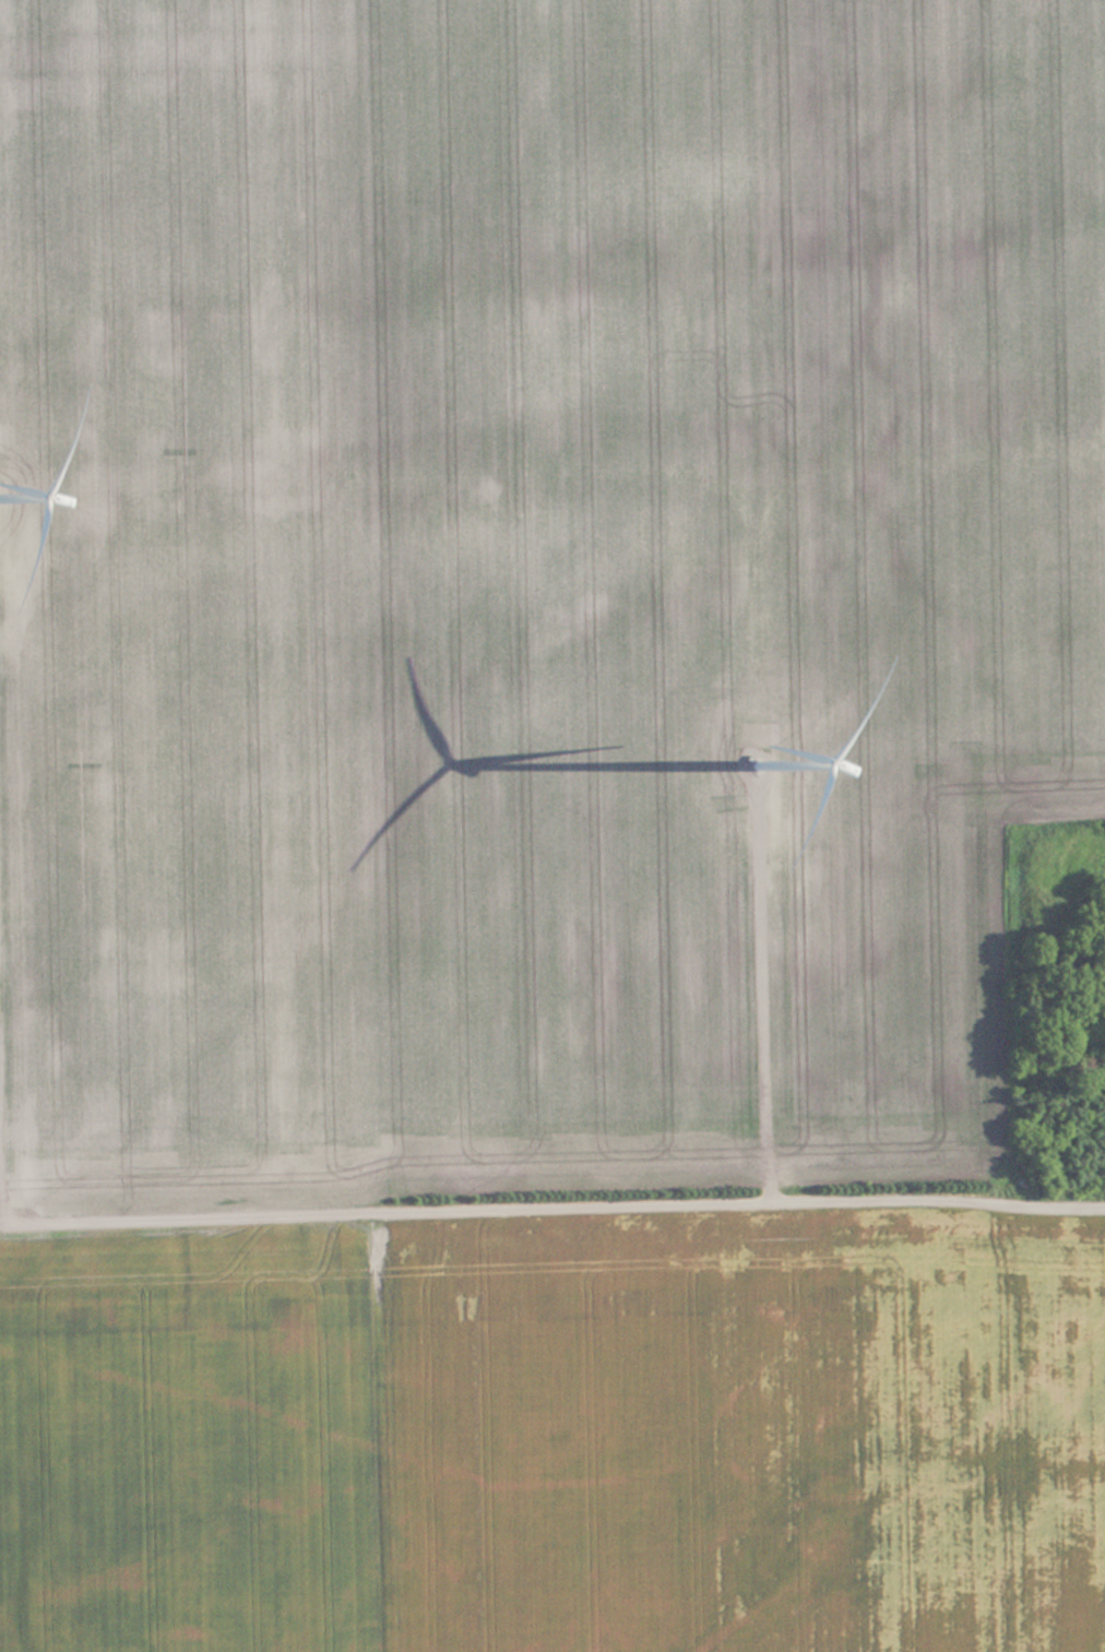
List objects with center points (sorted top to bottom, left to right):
wind turbine: (753, 736)
road: (772, 989)
road: (525, 1199)

